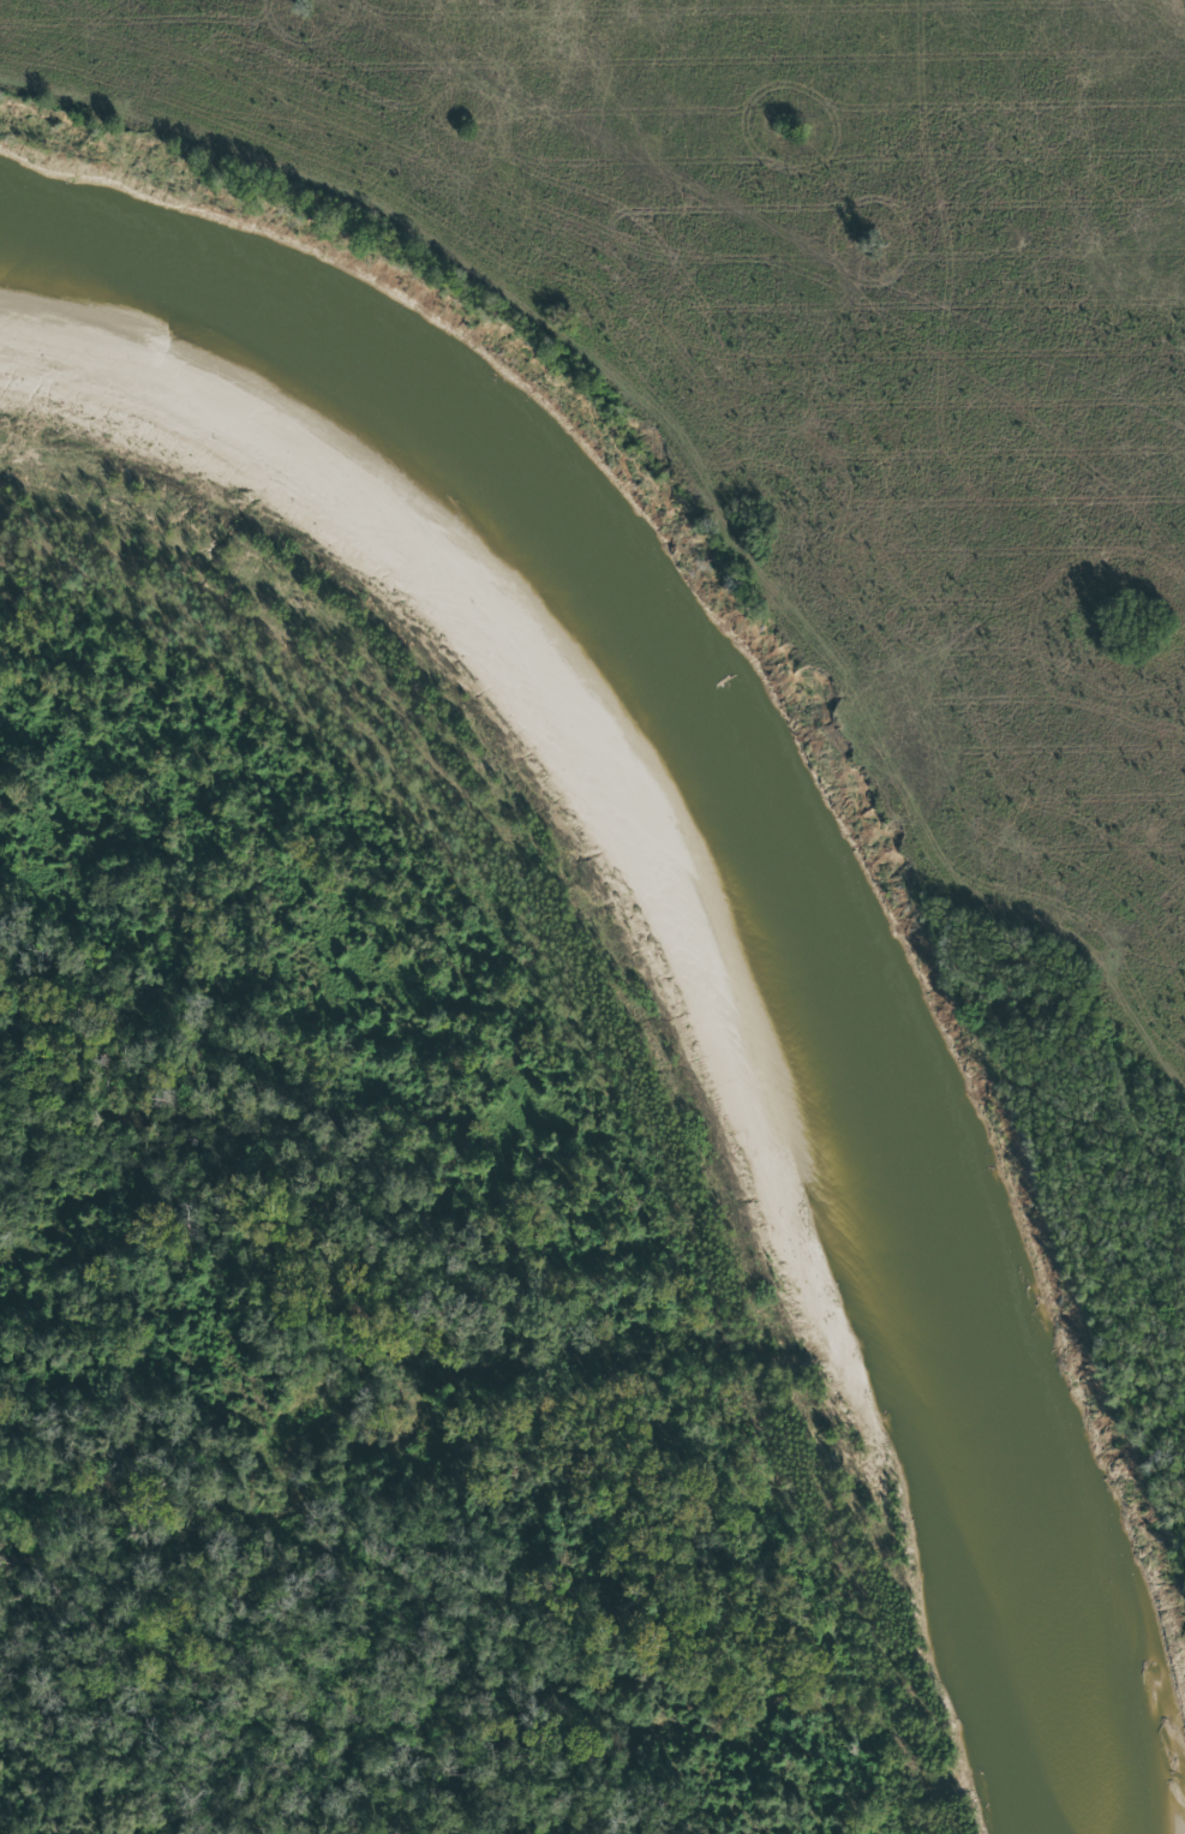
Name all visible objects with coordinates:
road: (690, 532)
river: (734, 895)

